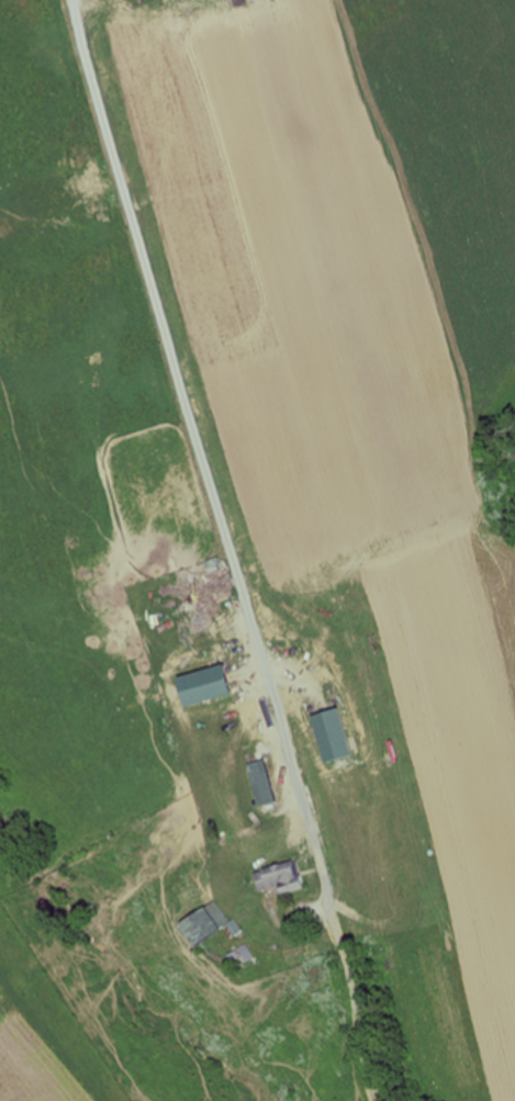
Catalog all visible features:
road: (208, 478)
building: (200, 588)
building: (260, 785)
building: (281, 879)
building: (202, 924)
building: (239, 957)

